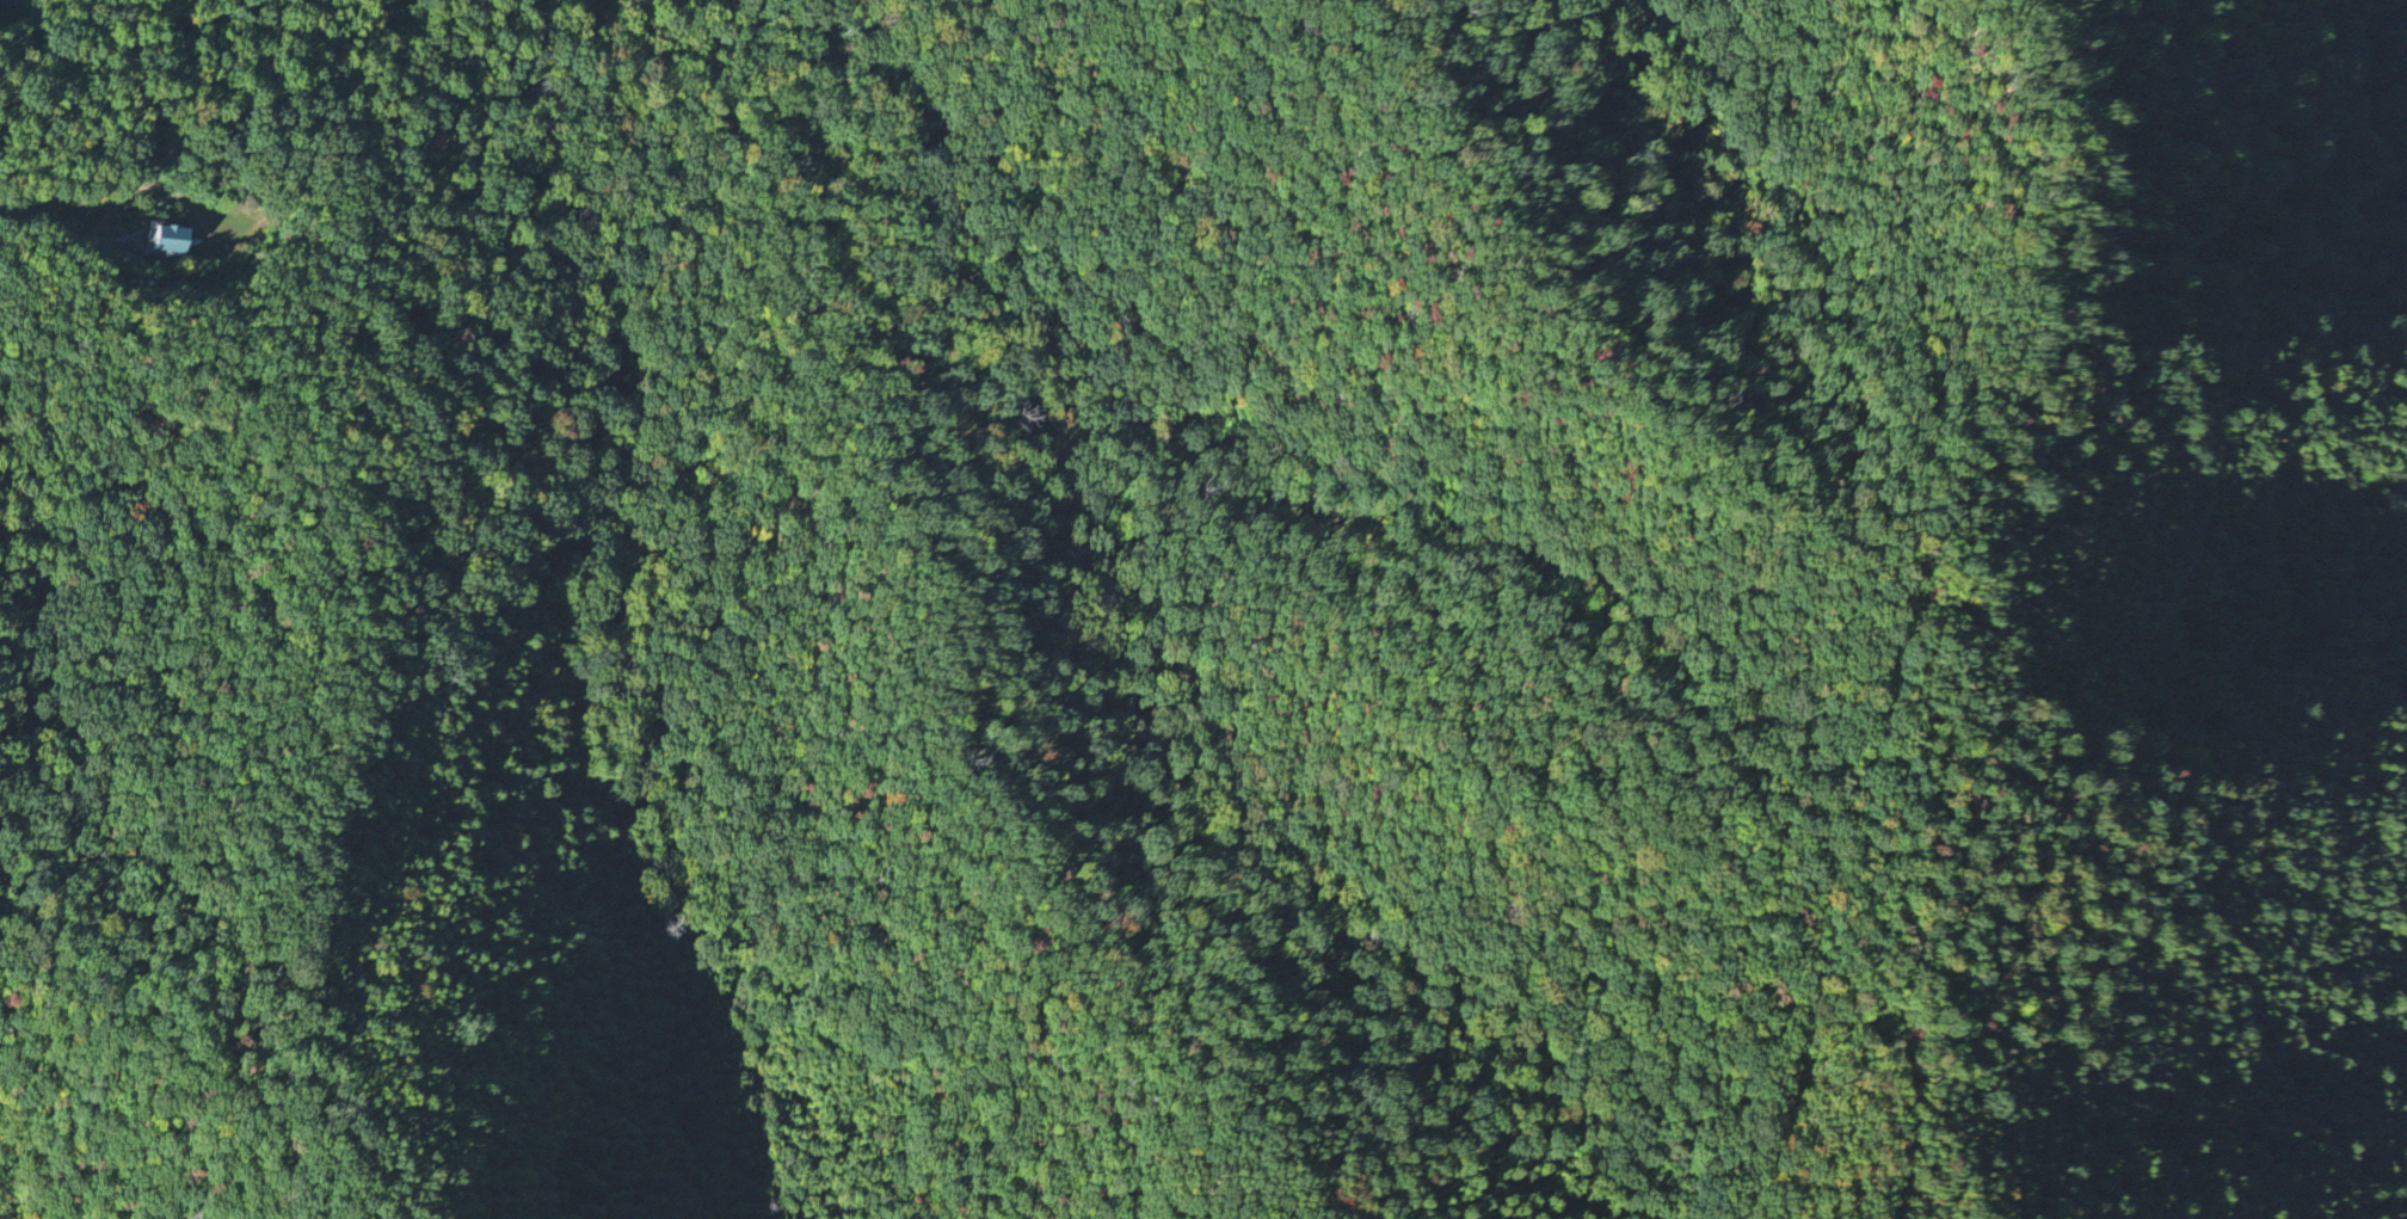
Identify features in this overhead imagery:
road: (110, 45)
road: (6, 204)
building: (168, 236)

